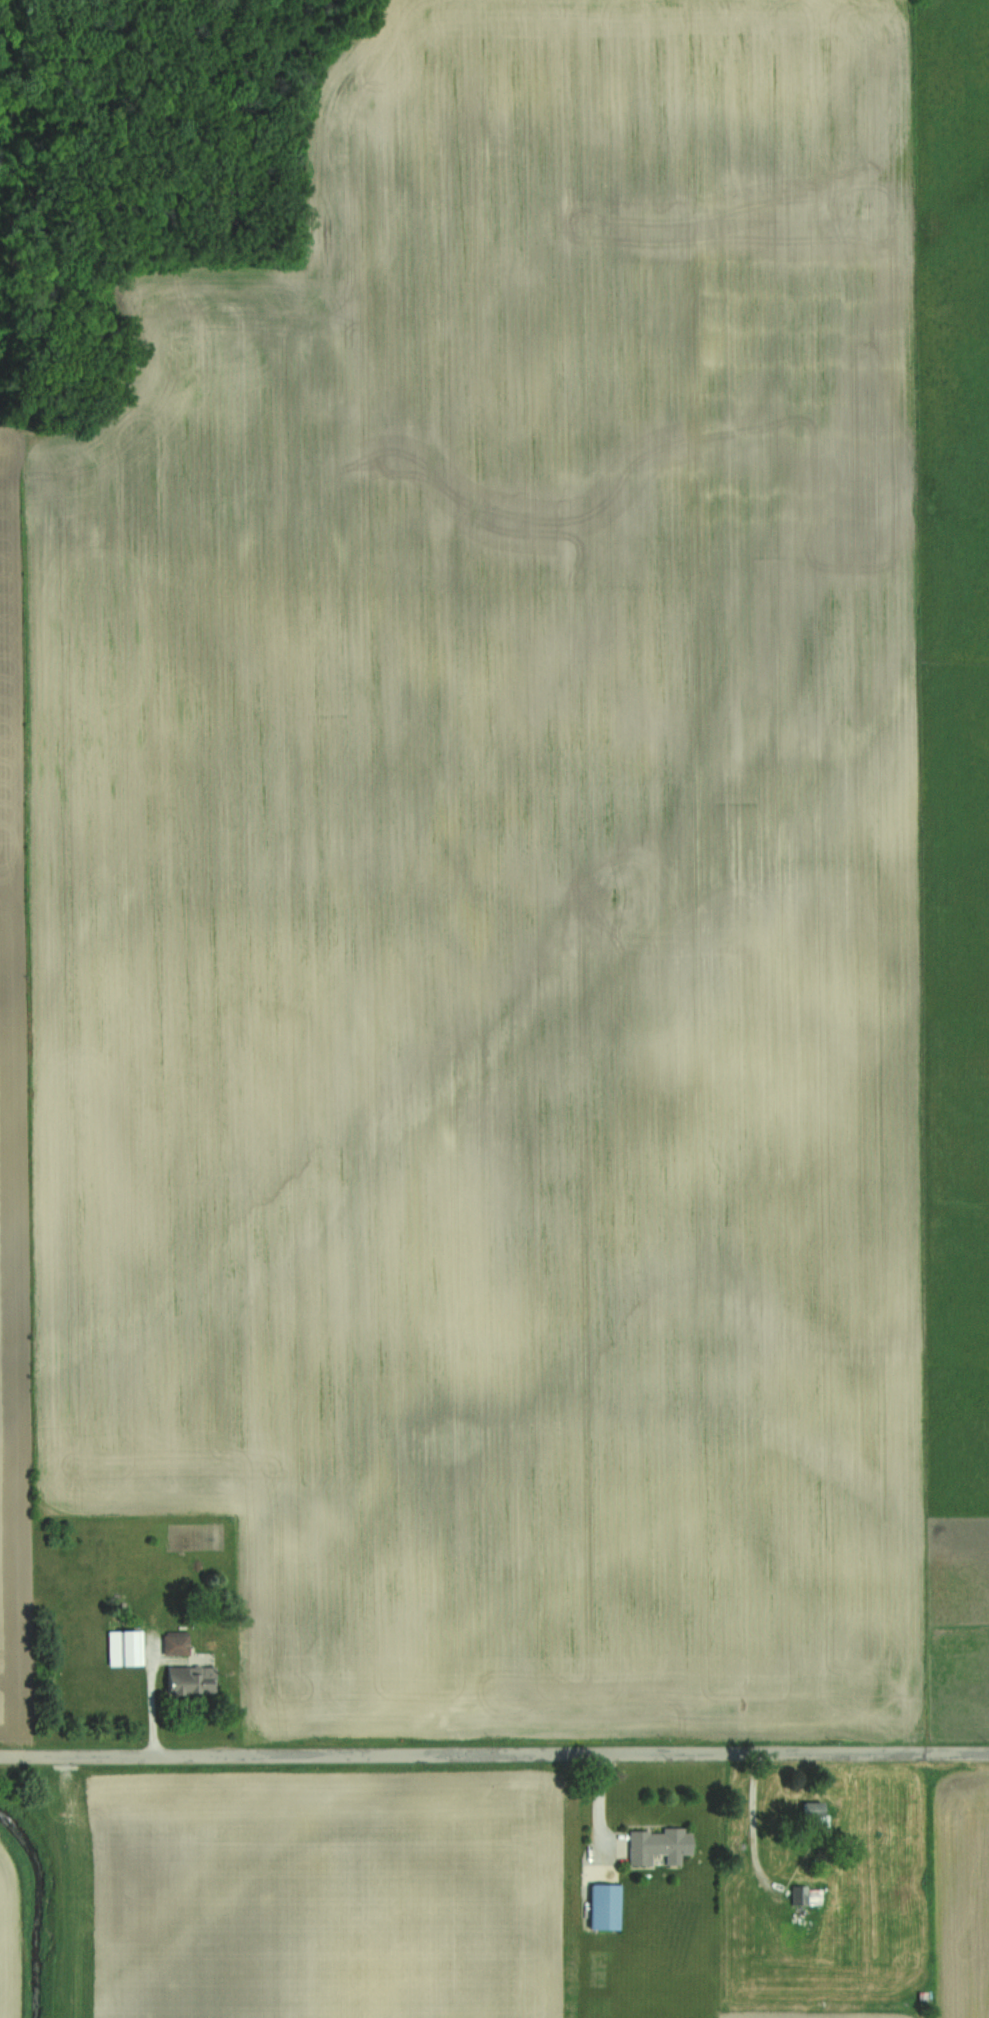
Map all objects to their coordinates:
building: (133, 1648)
building: (189, 1680)
road: (494, 1755)
building: (816, 1814)
building: (660, 1846)
building: (801, 1896)
building: (606, 1906)

